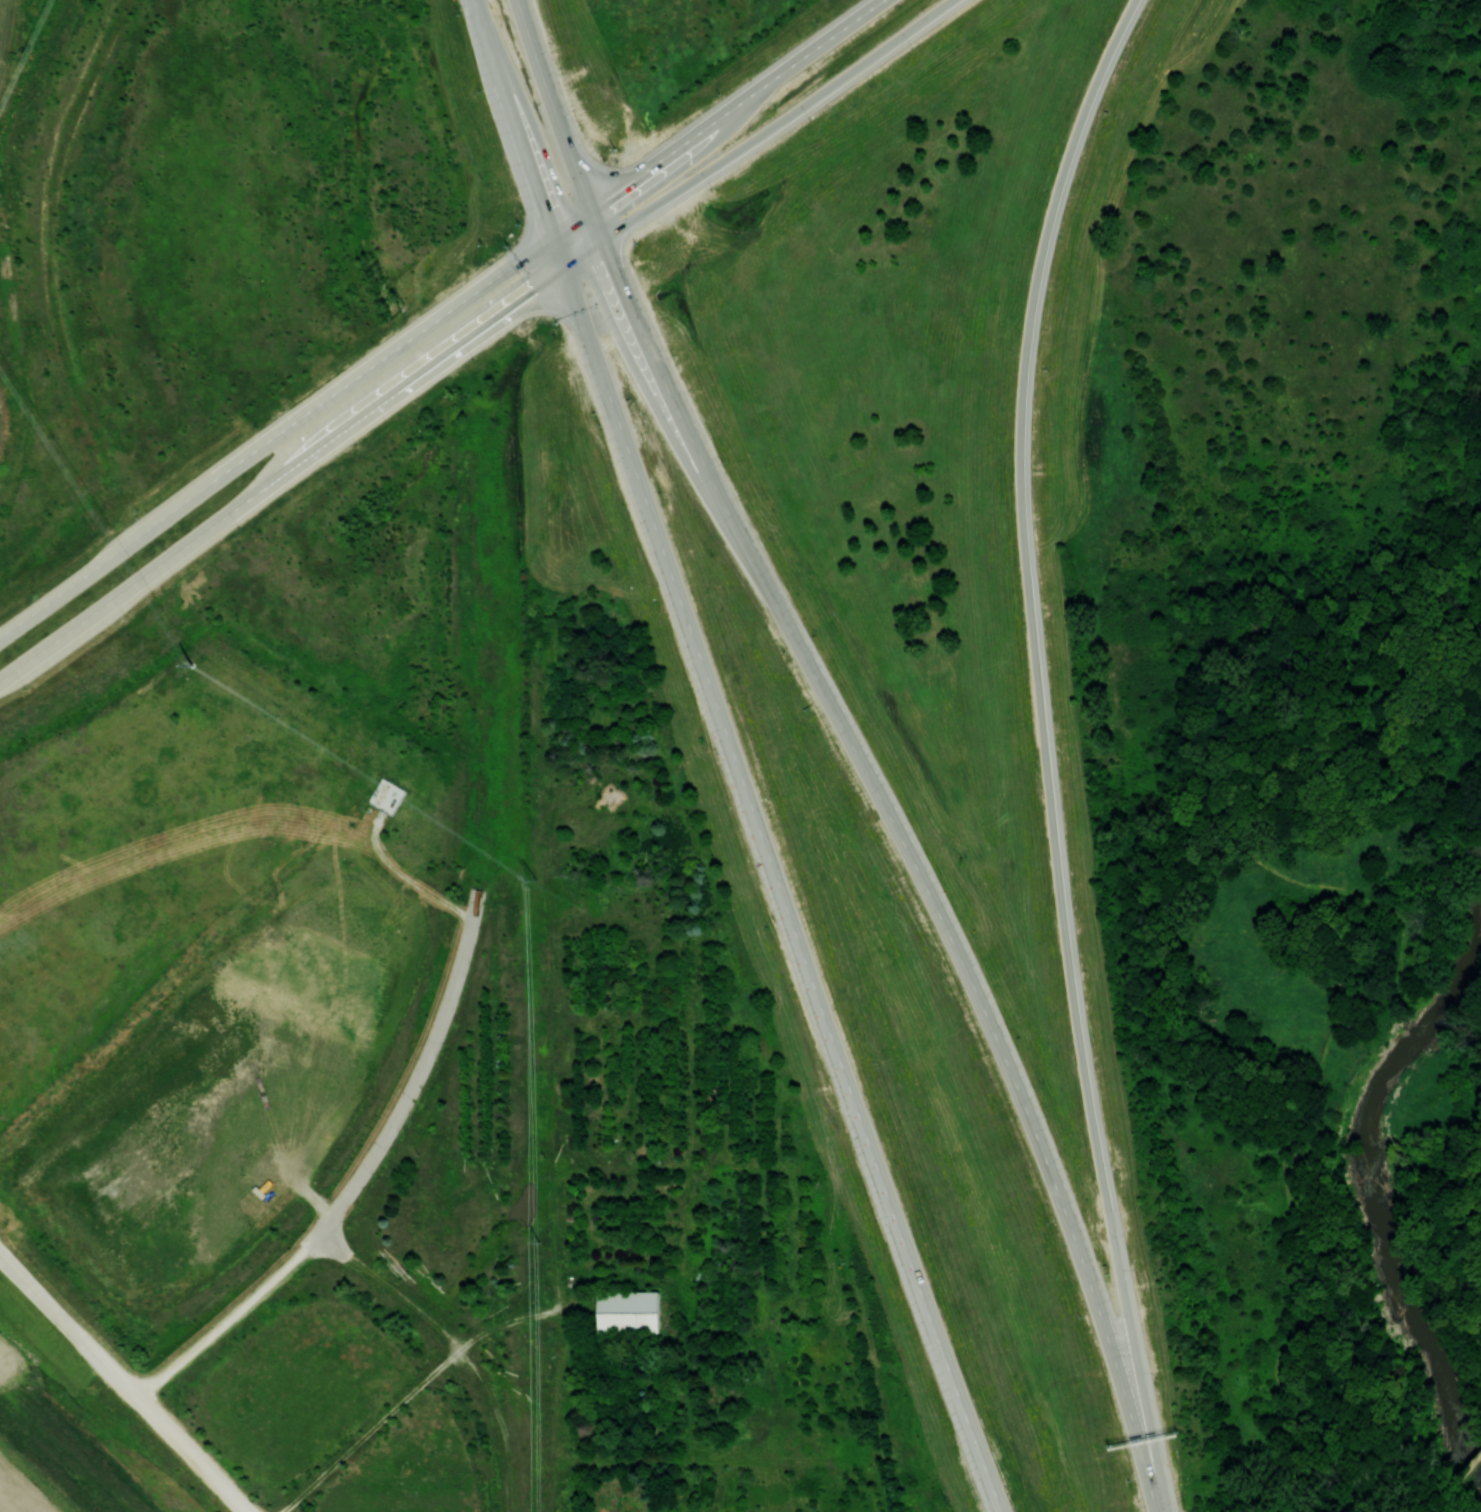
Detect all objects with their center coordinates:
road: (511, 116)
road: (716, 117)
road: (758, 136)
traffic signals: (589, 208)
traffic signals: (552, 233)
traffic signals: (600, 239)
traffic signals: (564, 268)
road: (275, 433)
road: (282, 473)
road: (1024, 504)
power tower: (191, 664)
road: (856, 748)
park: (1302, 793)
road: (1186, 867)
road: (775, 872)
power tower: (539, 884)
road: (425, 1061)
river: (1366, 1174)
power tower: (538, 1242)
road: (1120, 1269)
road: (1319, 1279)
road: (42, 1299)
building: (628, 1310)
road: (233, 1317)
road: (463, 1342)
road: (411, 1391)
road: (1314, 1420)
road: (164, 1428)
track: (65, 1448)
river: (1477, 1480)

